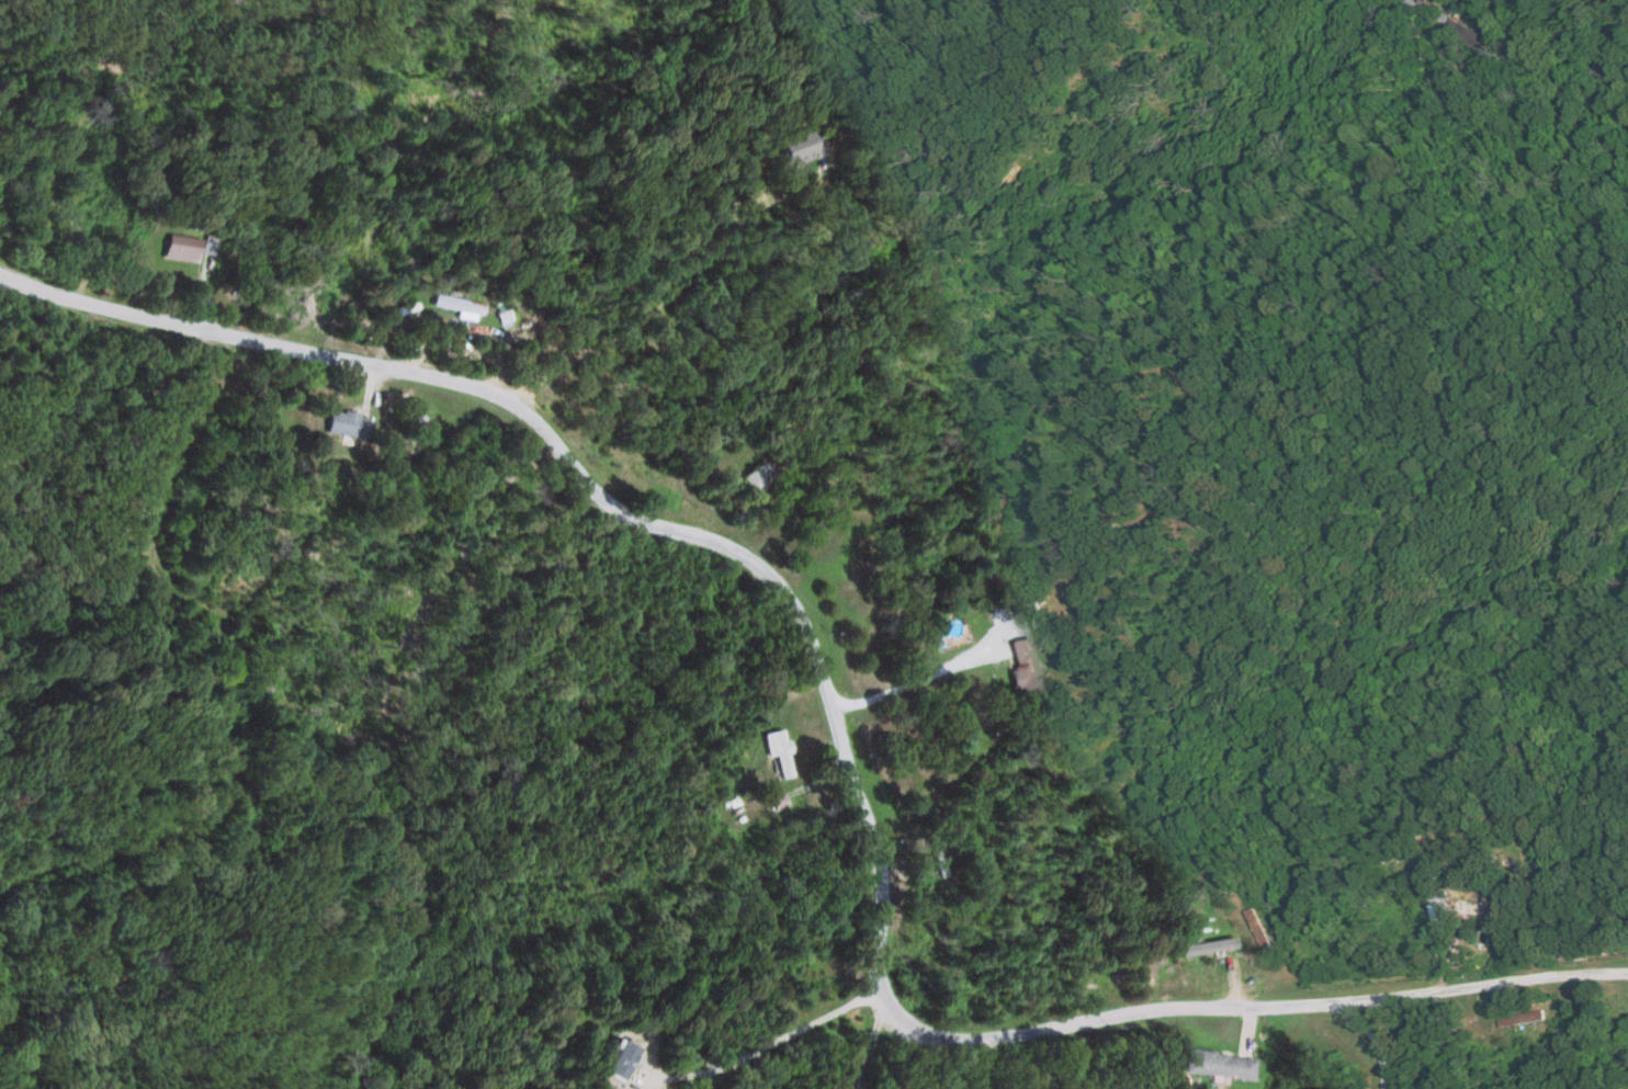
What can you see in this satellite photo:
building: (793, 147)
building: (176, 247)
building: (455, 305)
road: (636, 307)
building: (340, 422)
building: (753, 476)
road: (145, 488)
building: (1032, 612)
building: (1019, 669)
building: (775, 749)
road: (843, 753)
building: (773, 799)
road: (855, 1052)
building: (613, 1059)
building: (1214, 1064)

